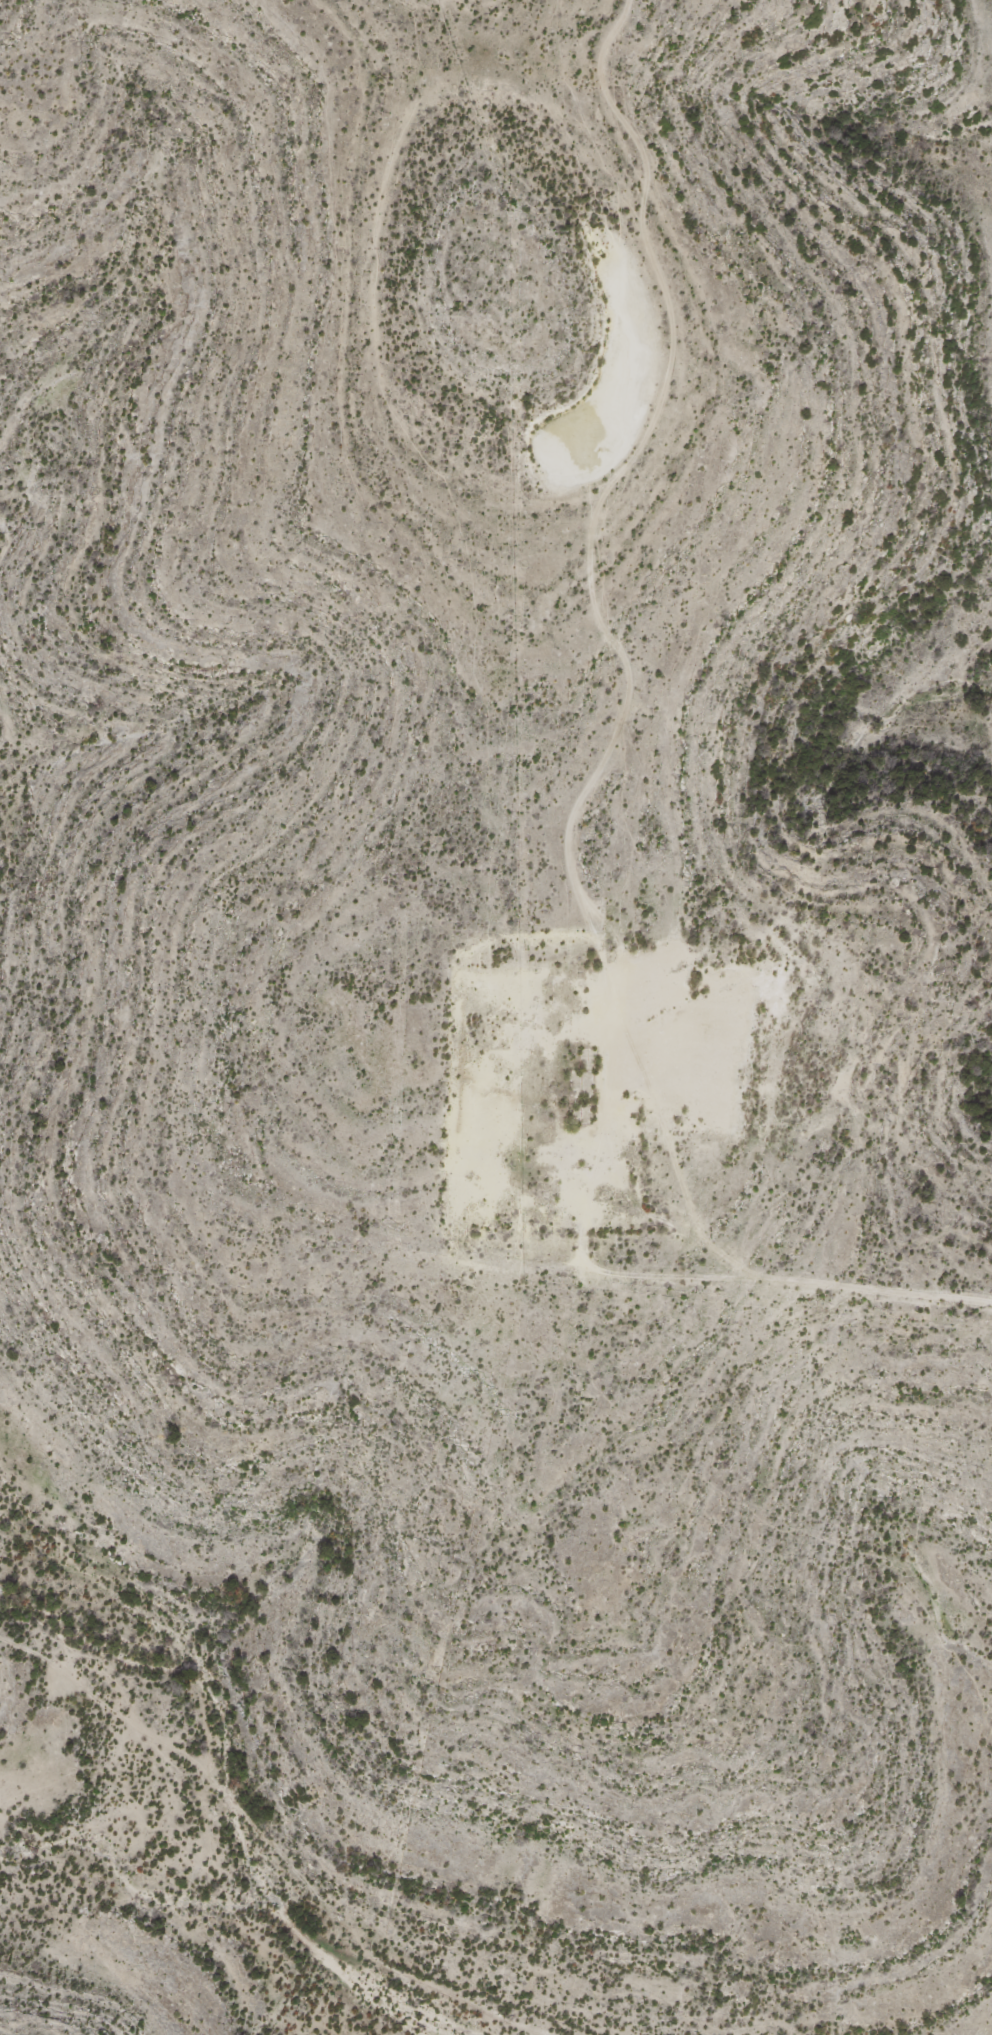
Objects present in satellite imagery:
road: (4, 549)
road: (4, 698)
road: (725, 1295)
road: (272, 1842)

